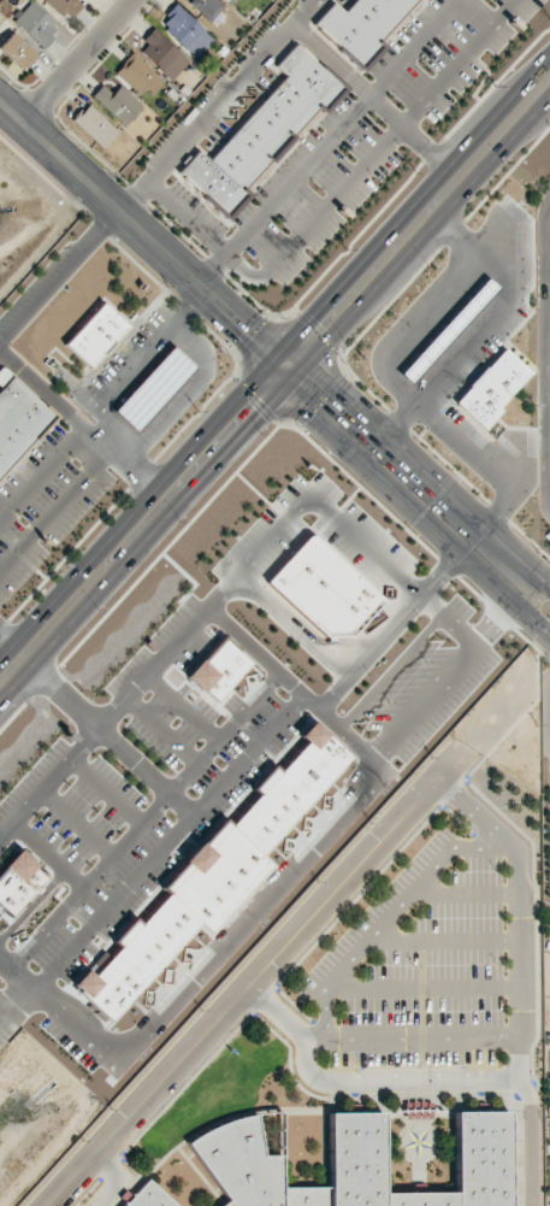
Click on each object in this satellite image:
building: (65, 7)
building: (207, 7)
building: (36, 24)
building: (362, 24)
building: (187, 31)
building: (17, 52)
building: (164, 54)
road: (78, 63)
building: (138, 75)
power tower: (495, 84)
road: (373, 101)
building: (118, 104)
road: (214, 105)
building: (95, 125)
road: (342, 128)
building: (264, 131)
road: (389, 136)
road: (185, 218)
road: (416, 223)
power tower: (344, 247)
road: (211, 270)
road: (242, 270)
road: (57, 276)
road: (205, 293)
building: (95, 335)
road: (136, 363)
traffic signals: (283, 365)
building: (492, 388)
building: (153, 389)
gas station: (153, 389)
road: (181, 395)
power tower: (195, 411)
building: (18, 422)
road: (81, 428)
road: (41, 475)
road: (53, 510)
road: (142, 523)
road: (480, 531)
road: (479, 558)
power tower: (49, 571)
building: (324, 589)
road: (12, 643)
building: (219, 670)
road: (549, 730)
building: (214, 876)
building: (18, 883)
road: (466, 894)
road: (390, 916)
road: (444, 940)
road: (254, 981)
road: (422, 987)
road: (5, 1007)
road: (408, 1037)
road: (518, 1073)
road: (527, 1094)
road: (533, 1158)
building: (357, 1164)
road: (119, 1178)
building: (149, 1196)

